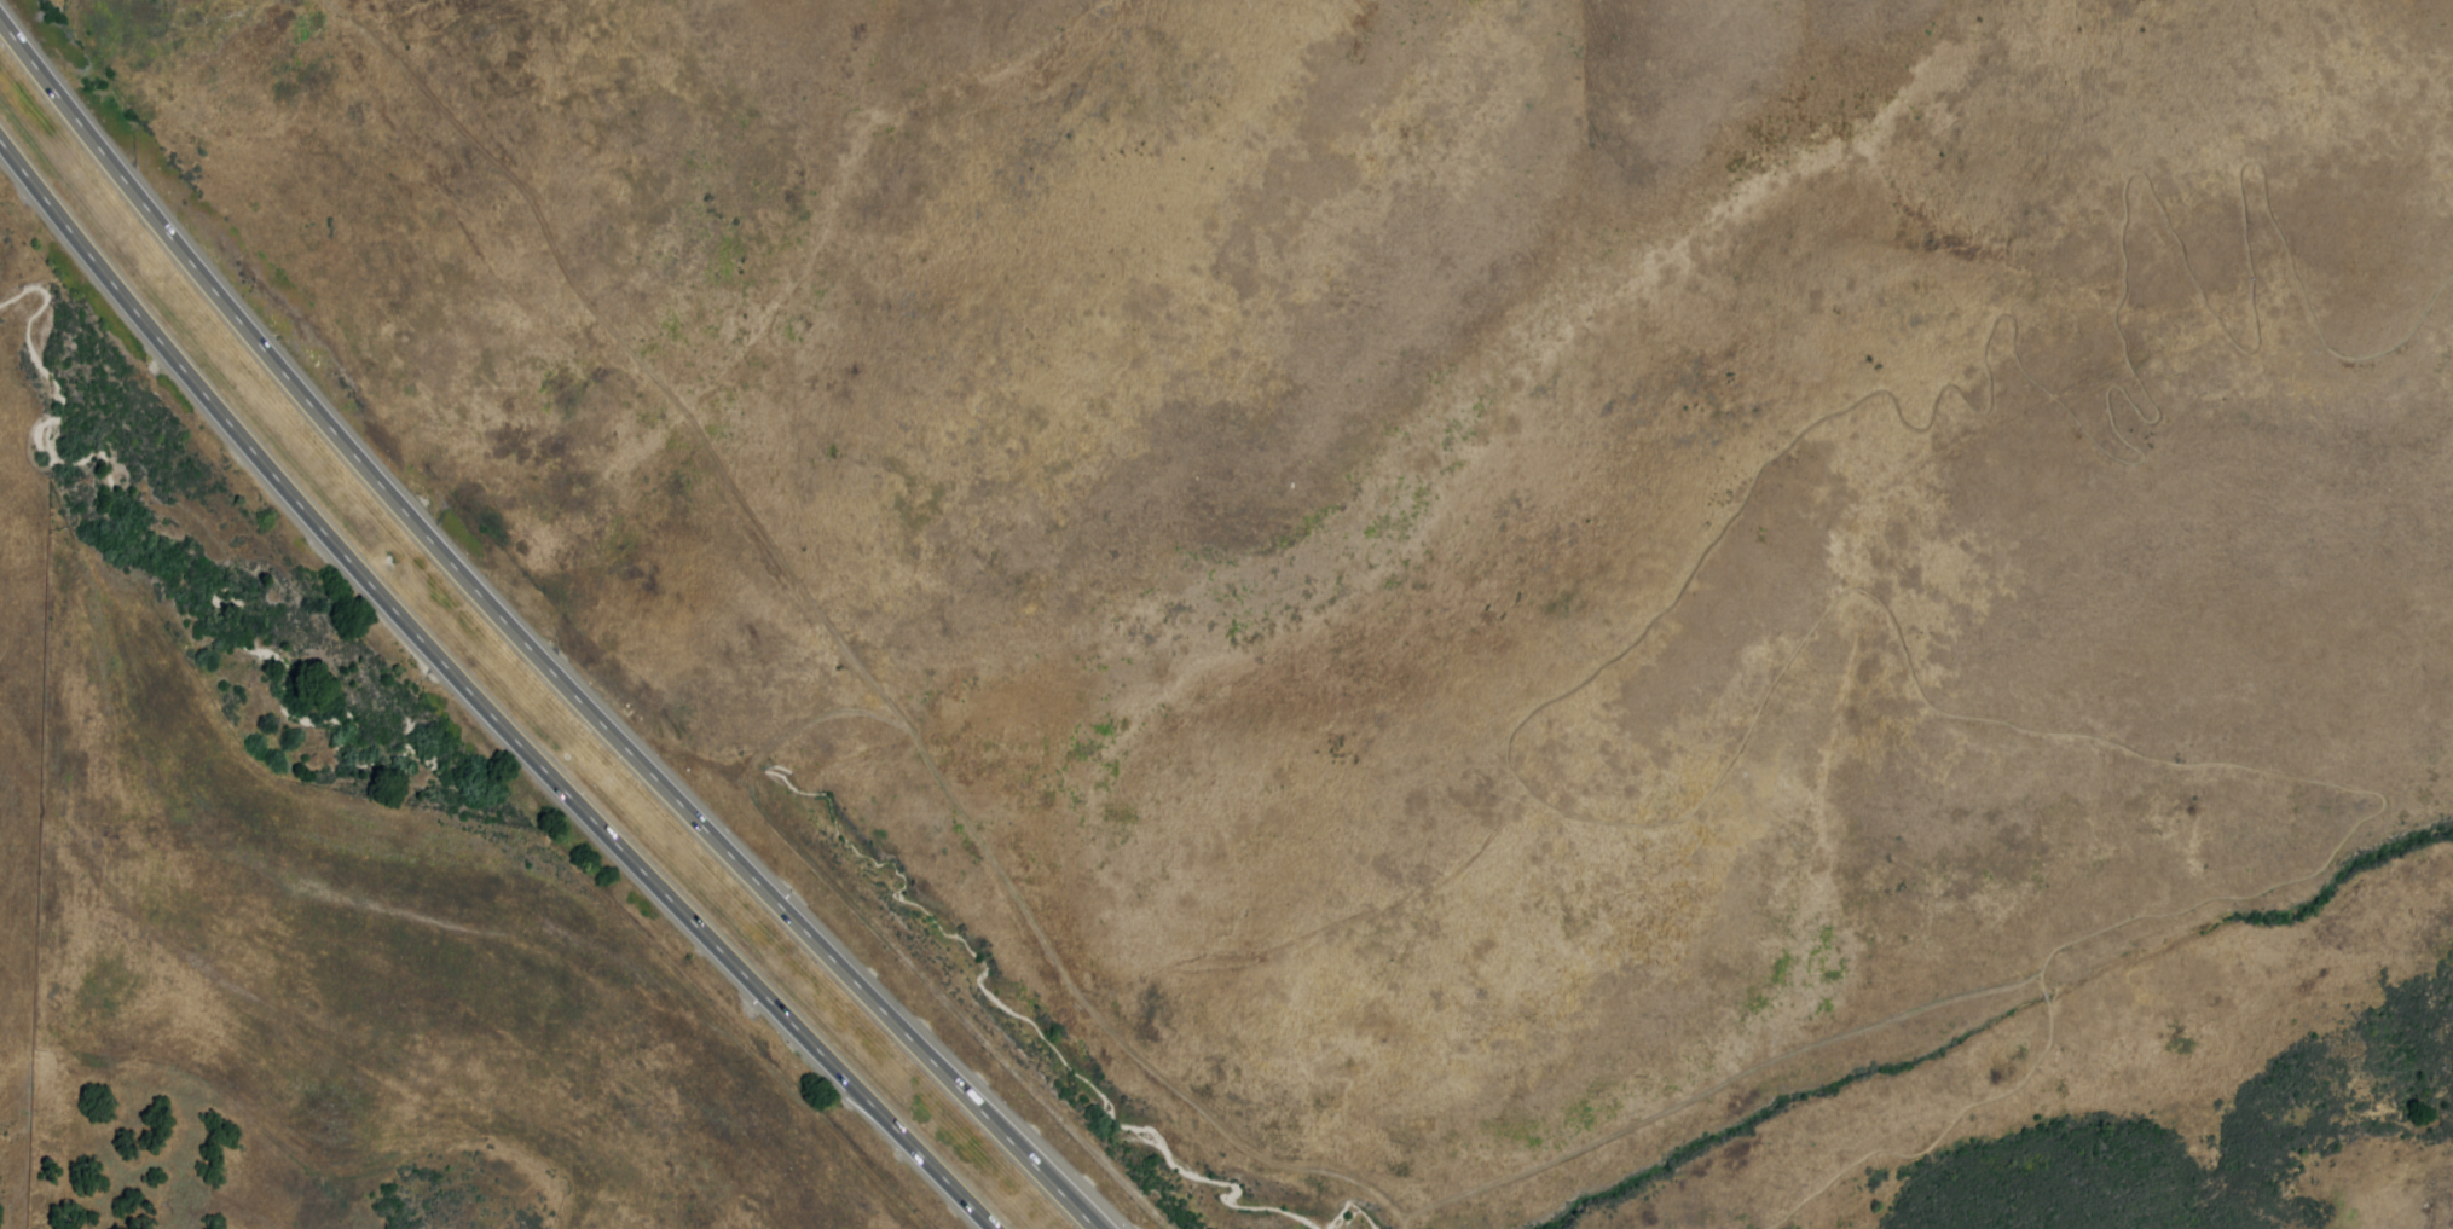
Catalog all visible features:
road: (527, 645)
road: (478, 701)
road: (319, 1021)

